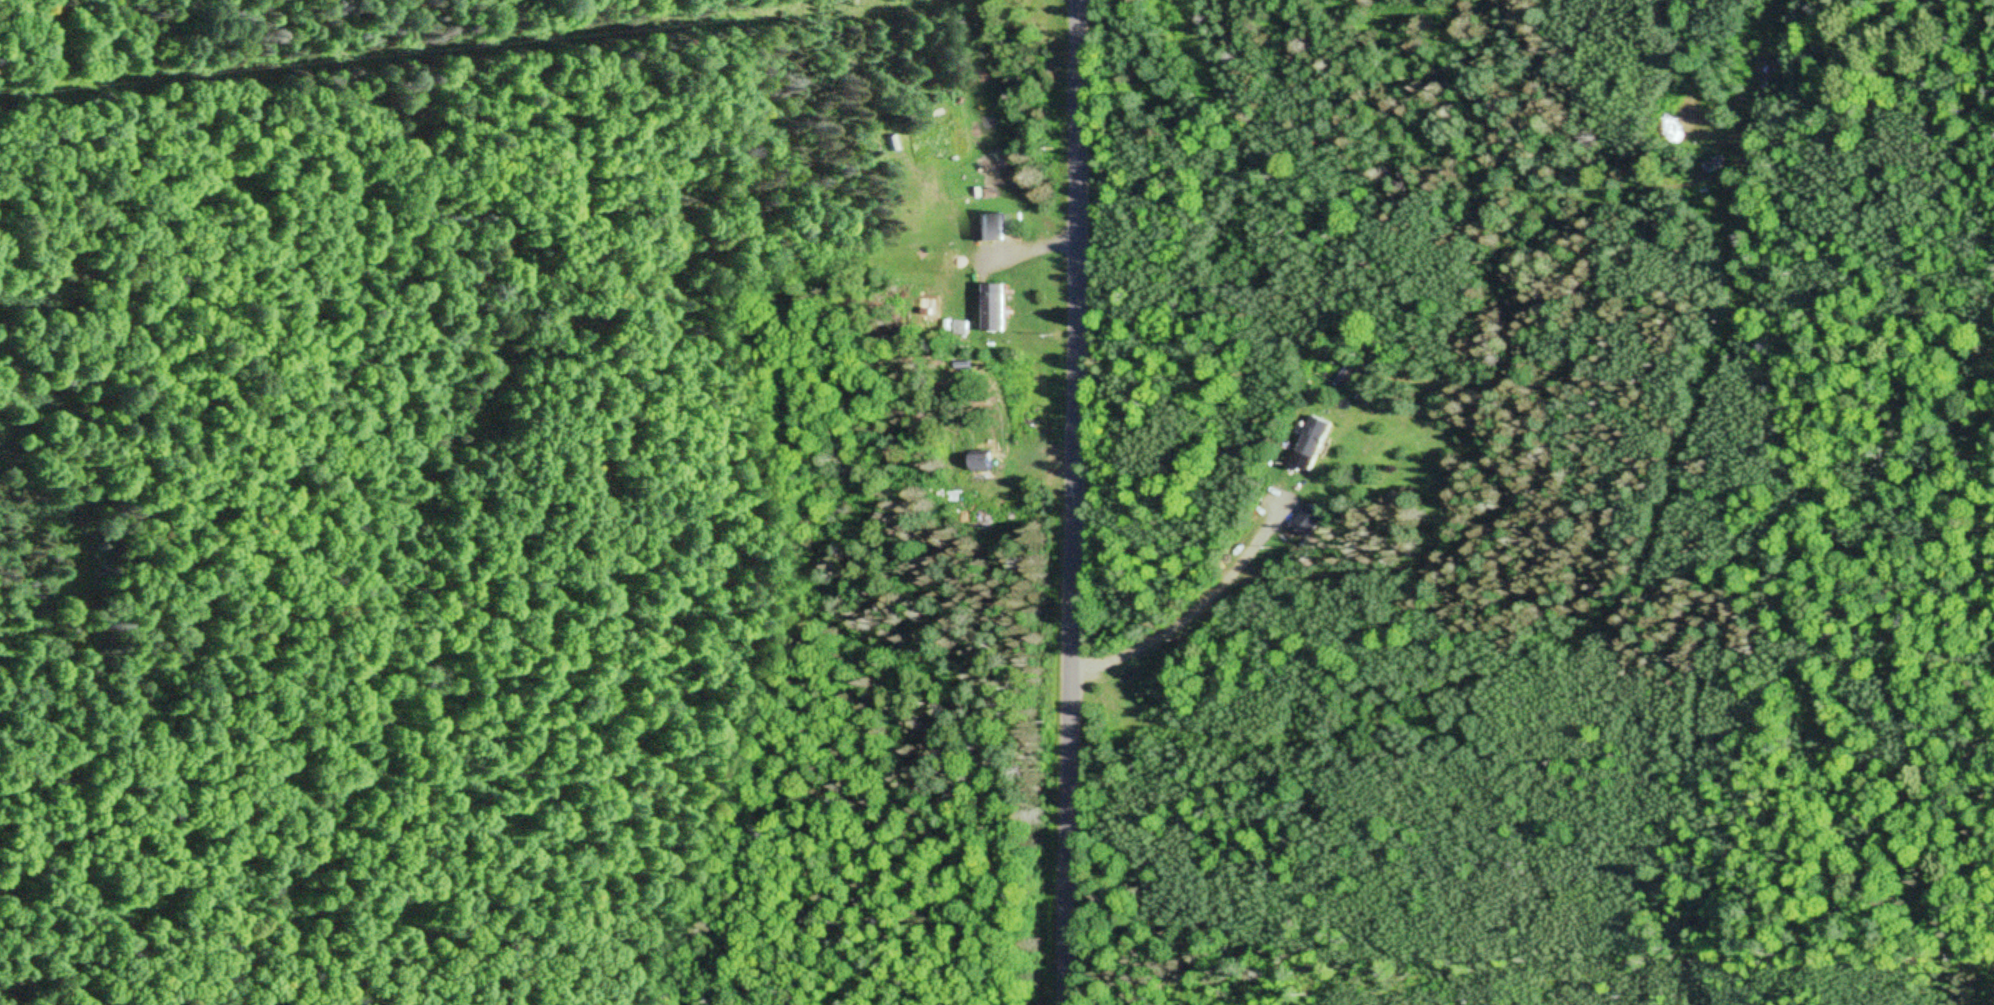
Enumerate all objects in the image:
building: (1318, 436)
building: (984, 458)
road: (1086, 502)
building: (1313, 519)

